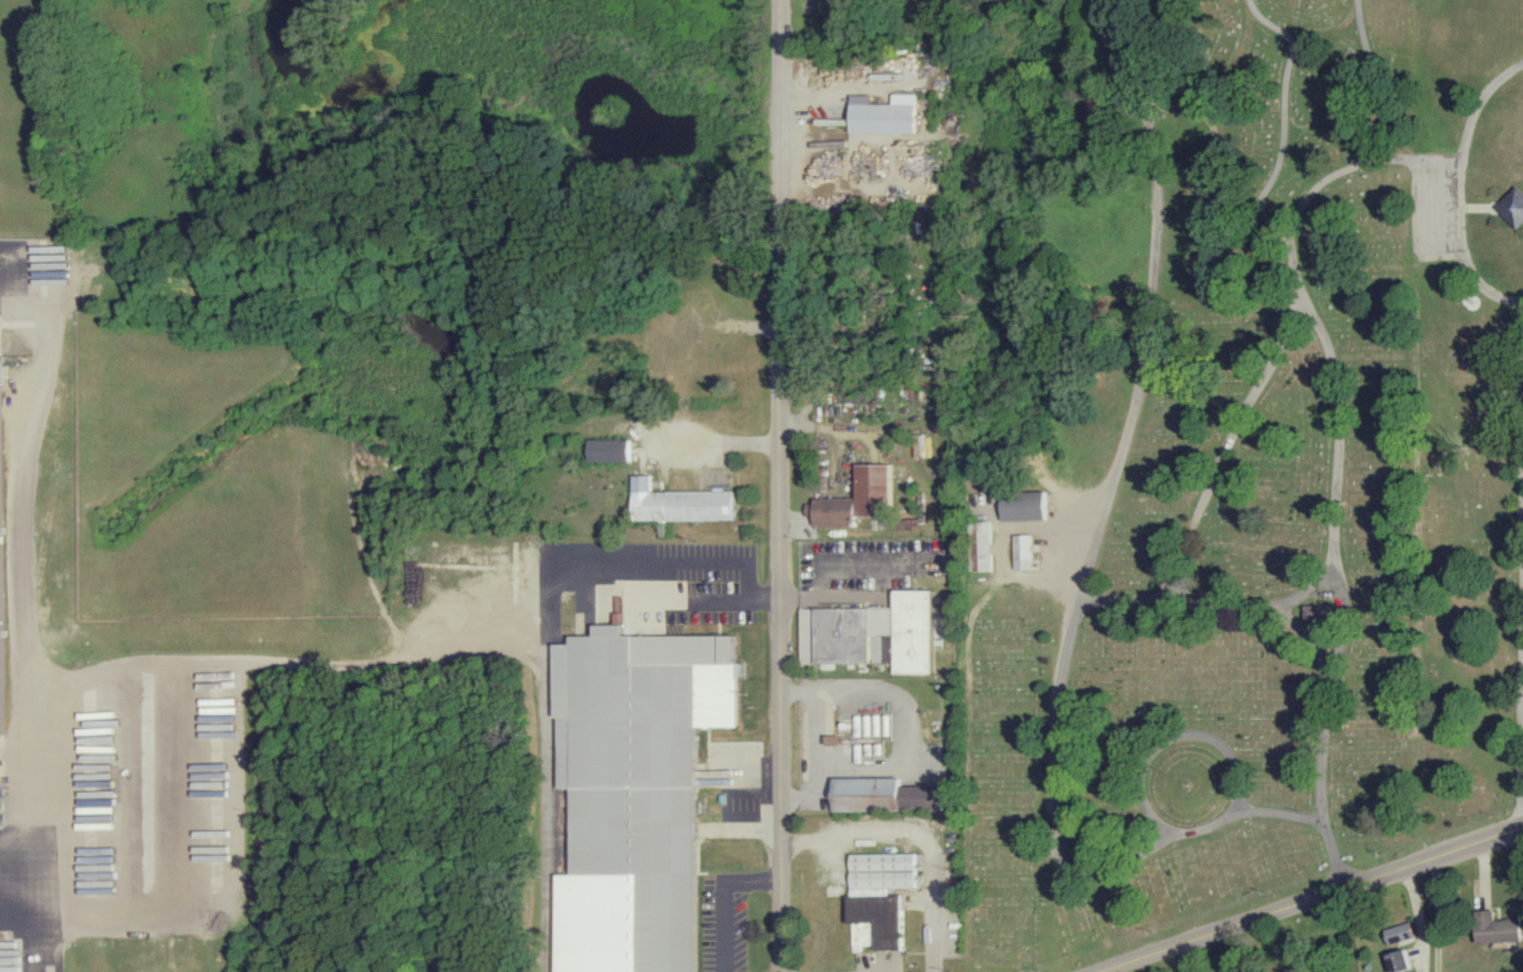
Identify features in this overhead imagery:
road: (856, 83)
building: (883, 114)
road: (1462, 197)
building: (1514, 207)
building: (706, 368)
road: (719, 442)
building: (610, 449)
park: (1256, 483)
road: (780, 486)
building: (860, 498)
building: (680, 503)
building: (1025, 504)
building: (979, 543)
building: (0, 544)
building: (1022, 550)
road: (22, 556)
road: (1520, 562)
road: (830, 568)
road: (631, 582)
road: (1076, 602)
building: (872, 632)
road: (548, 728)
road: (1170, 736)
building: (635, 791)
building: (887, 793)
road: (917, 839)
building: (880, 896)
road: (1310, 898)
road: (9, 907)
road: (1439, 912)
building: (1501, 929)
building: (1402, 931)
building: (1402, 959)

